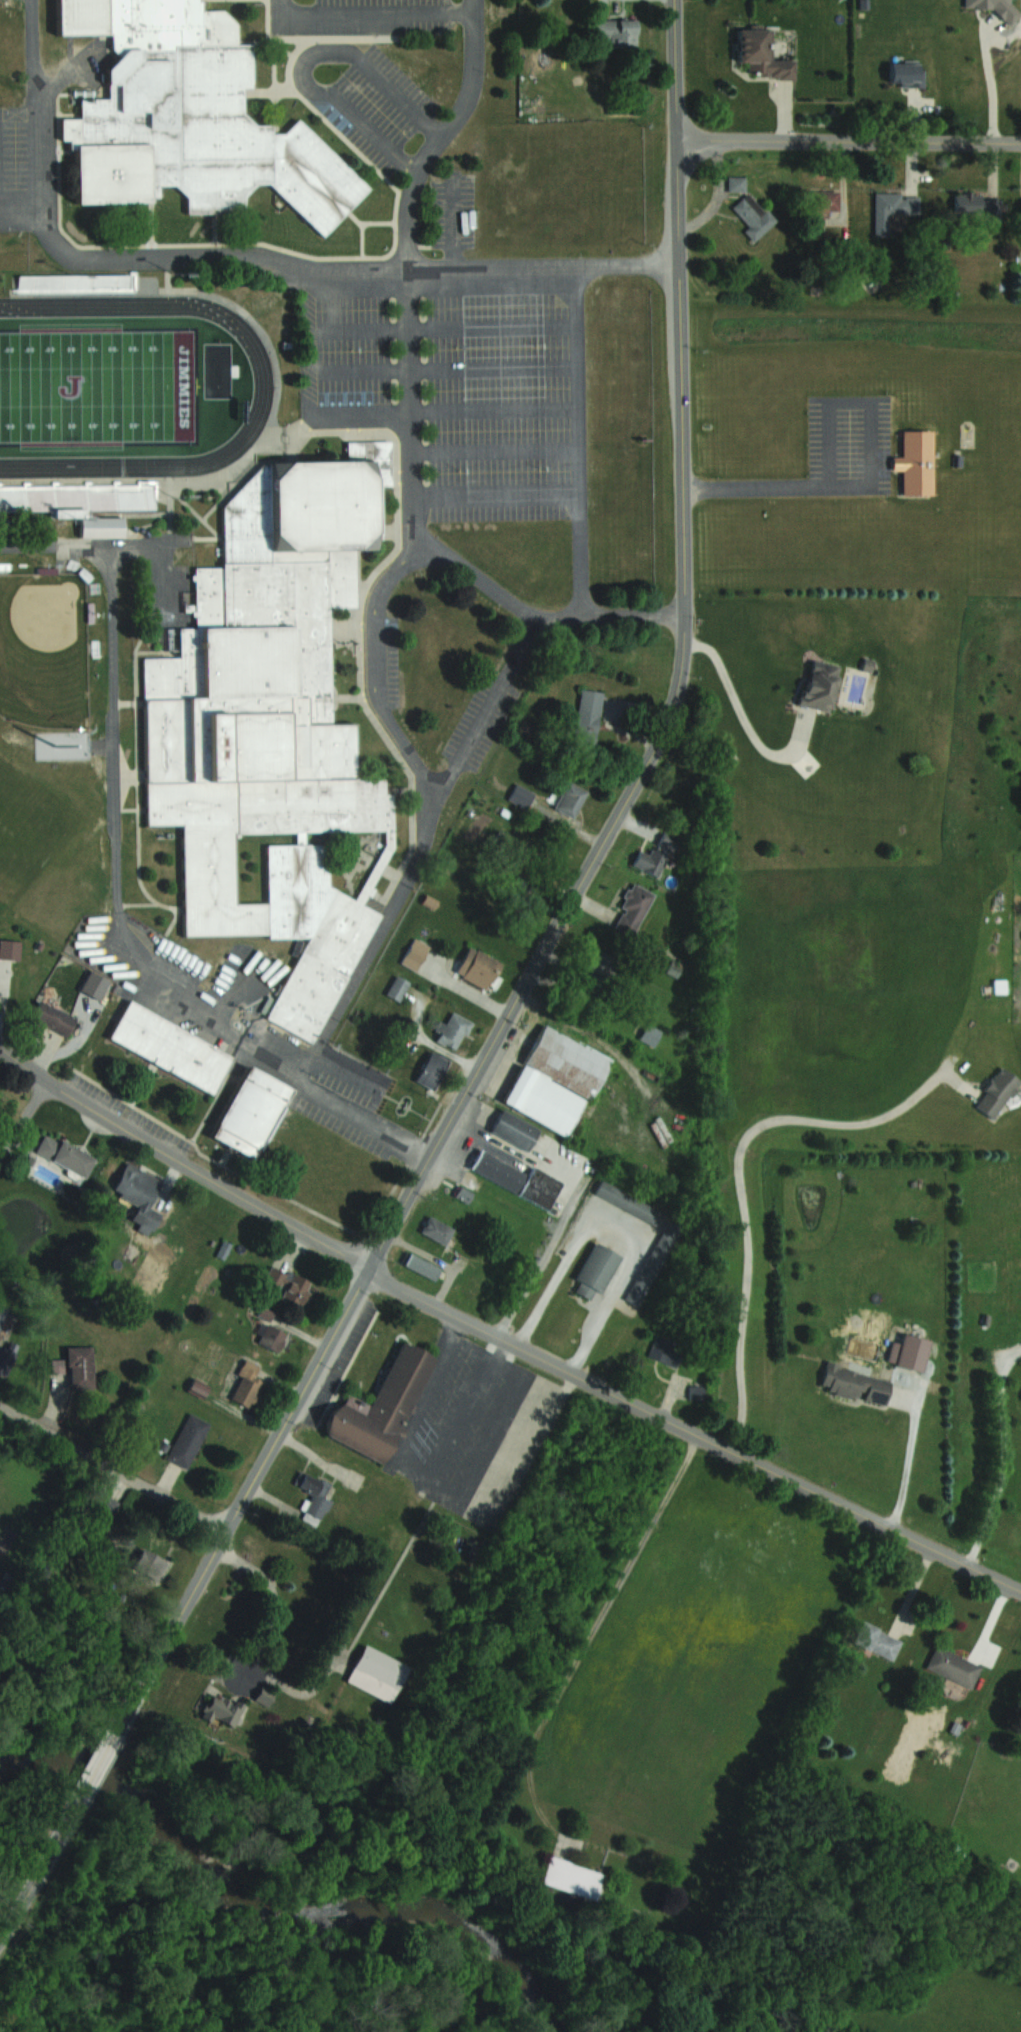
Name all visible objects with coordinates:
building: (987, 6)
road: (463, 12)
road: (362, 14)
building: (617, 31)
road: (28, 45)
building: (760, 54)
road: (332, 57)
parking lot: (357, 68)
road: (675, 69)
building: (905, 74)
road: (991, 78)
building: (188, 117)
road: (436, 128)
road: (444, 135)
road: (848, 140)
road: (393, 153)
parking lot: (27, 161)
building: (736, 183)
building: (822, 202)
building: (977, 206)
building: (893, 208)
road: (16, 212)
building: (753, 216)
road: (147, 257)
building: (1020, 259)
road: (627, 264)
road: (418, 269)
parking lot: (459, 370)
park: (97, 386)
track: (263, 389)
road: (313, 389)
building: (915, 463)
road: (870, 471)
building: (82, 504)
road: (63, 547)
road: (584, 571)
road: (385, 577)
parking lot: (159, 578)
road: (515, 612)
park: (44, 650)
building: (818, 686)
road: (482, 708)
road: (378, 711)
building: (587, 715)
road: (745, 718)
building: (267, 732)
parking lot: (474, 735)
building: (520, 795)
building: (570, 798)
road: (115, 821)
building: (669, 840)
building: (650, 860)
building: (522, 892)
building: (632, 908)
building: (9, 948)
building: (414, 953)
building: (600, 963)
road: (533, 968)
building: (478, 969)
road: (344, 986)
building: (397, 987)
building: (52, 1017)
parking lot: (228, 1019)
building: (452, 1030)
building: (651, 1033)
building: (171, 1047)
building: (431, 1069)
building: (555, 1080)
building: (996, 1092)
building: (253, 1112)
road: (22, 1115)
building: (513, 1130)
road: (411, 1149)
building: (64, 1153)
road: (181, 1162)
building: (516, 1178)
road: (738, 1183)
building: (140, 1193)
building: (628, 1202)
road: (618, 1227)
building: (438, 1230)
building: (420, 1264)
building: (595, 1272)
building: (286, 1284)
building: (2, 1311)
building: (270, 1338)
building: (666, 1350)
building: (908, 1352)
building: (76, 1366)
road: (435, 1372)
building: (854, 1384)
building: (197, 1387)
building: (246, 1387)
building: (380, 1406)
road: (693, 1433)
building: (187, 1439)
road: (421, 1441)
road: (1003, 1454)
road: (908, 1462)
road: (112, 1469)
road: (465, 1489)
building: (313, 1496)
building: (149, 1563)
road: (2, 1596)
road: (590, 1630)
building: (876, 1640)
road: (261, 1641)
building: (953, 1665)
building: (377, 1673)
building: (263, 1696)
building: (221, 1710)
road: (94, 1771)
road: (36, 1876)
building: (572, 1879)
river: (278, 1913)

